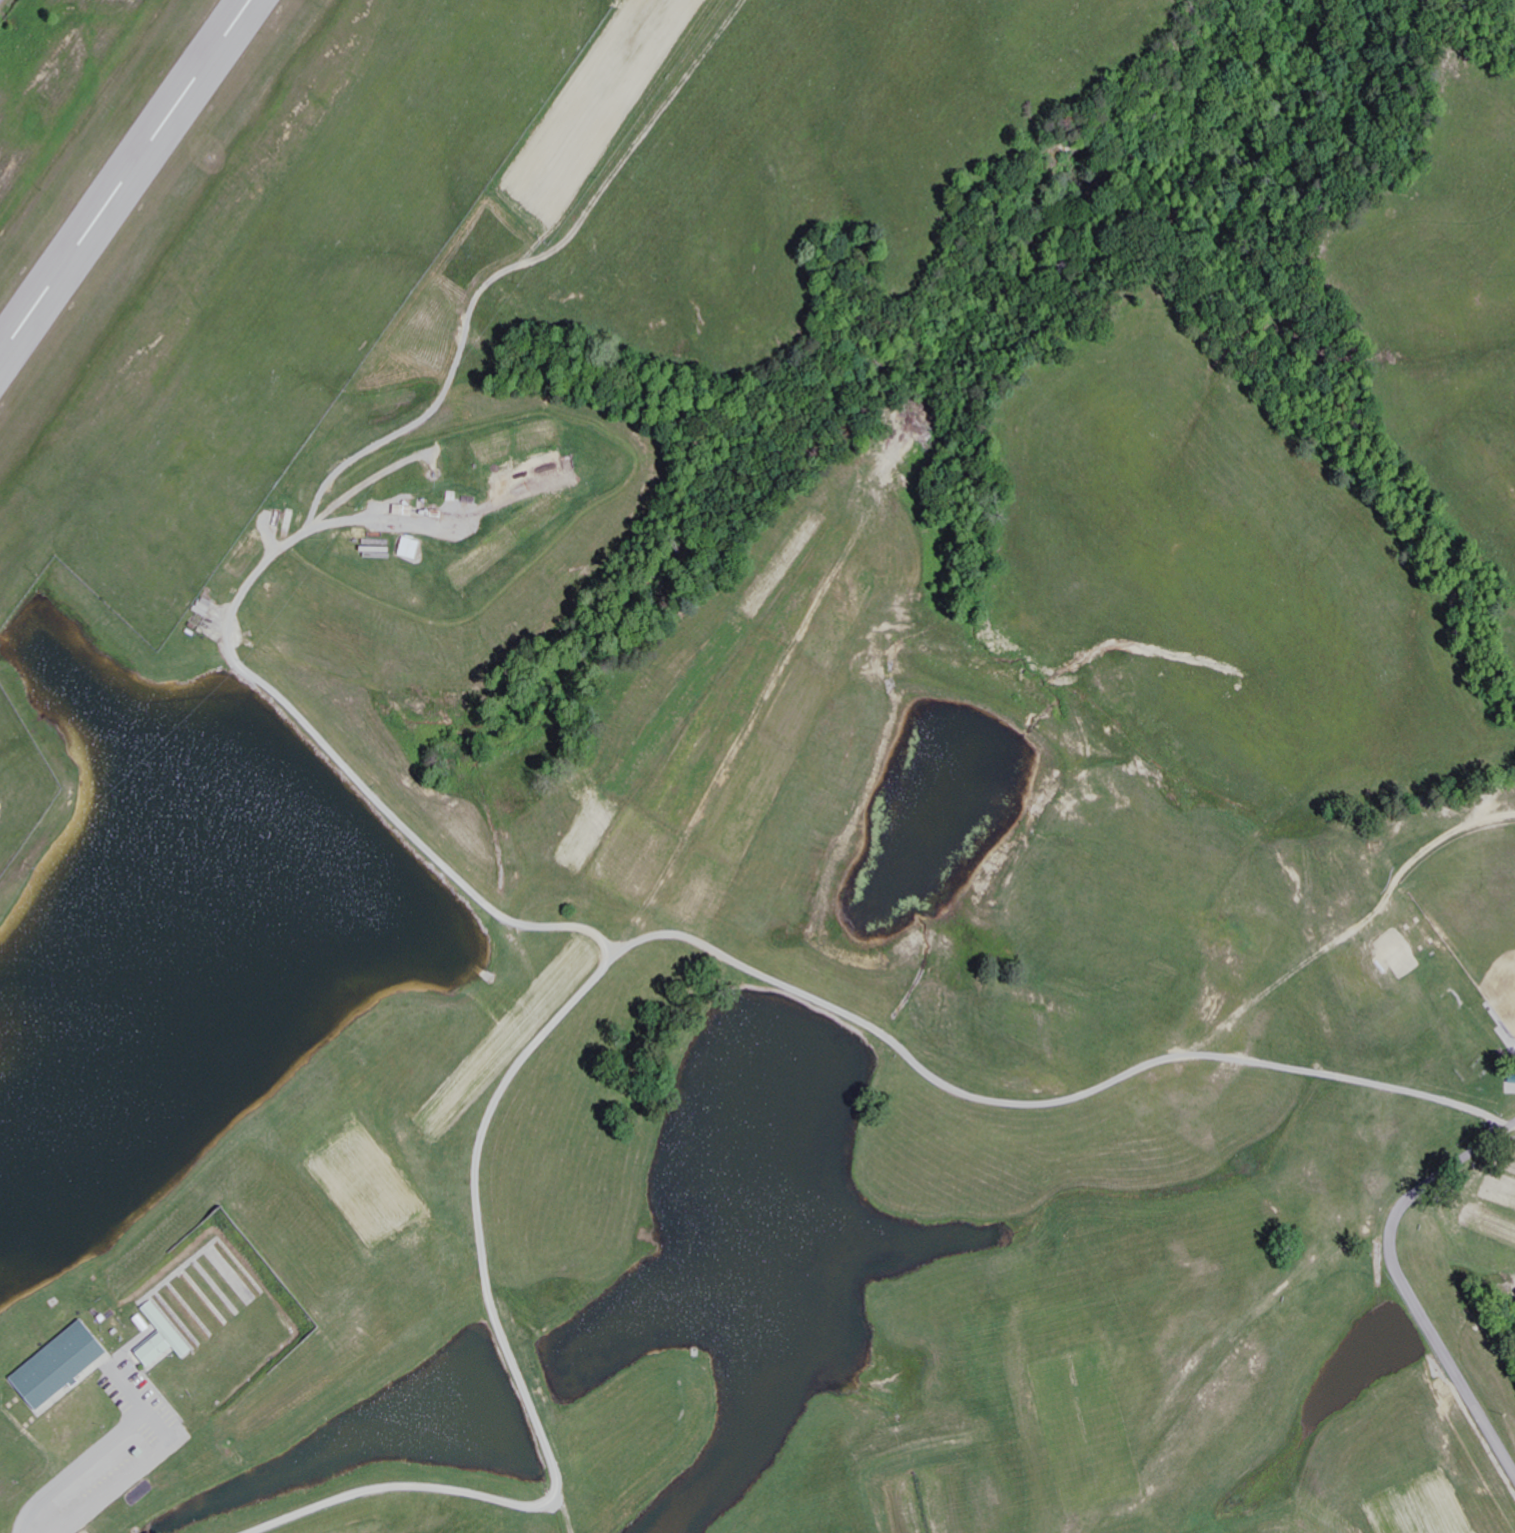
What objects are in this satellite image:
airport runway: (126, 179)
airport: (222, 250)
road: (433, 411)
building: (414, 548)
road: (310, 724)
airport: (21, 782)
road: (557, 1021)
road: (1405, 1094)
road: (1402, 1282)
building: (166, 1338)
building: (64, 1365)
parking lot: (141, 1401)
road: (79, 1467)

